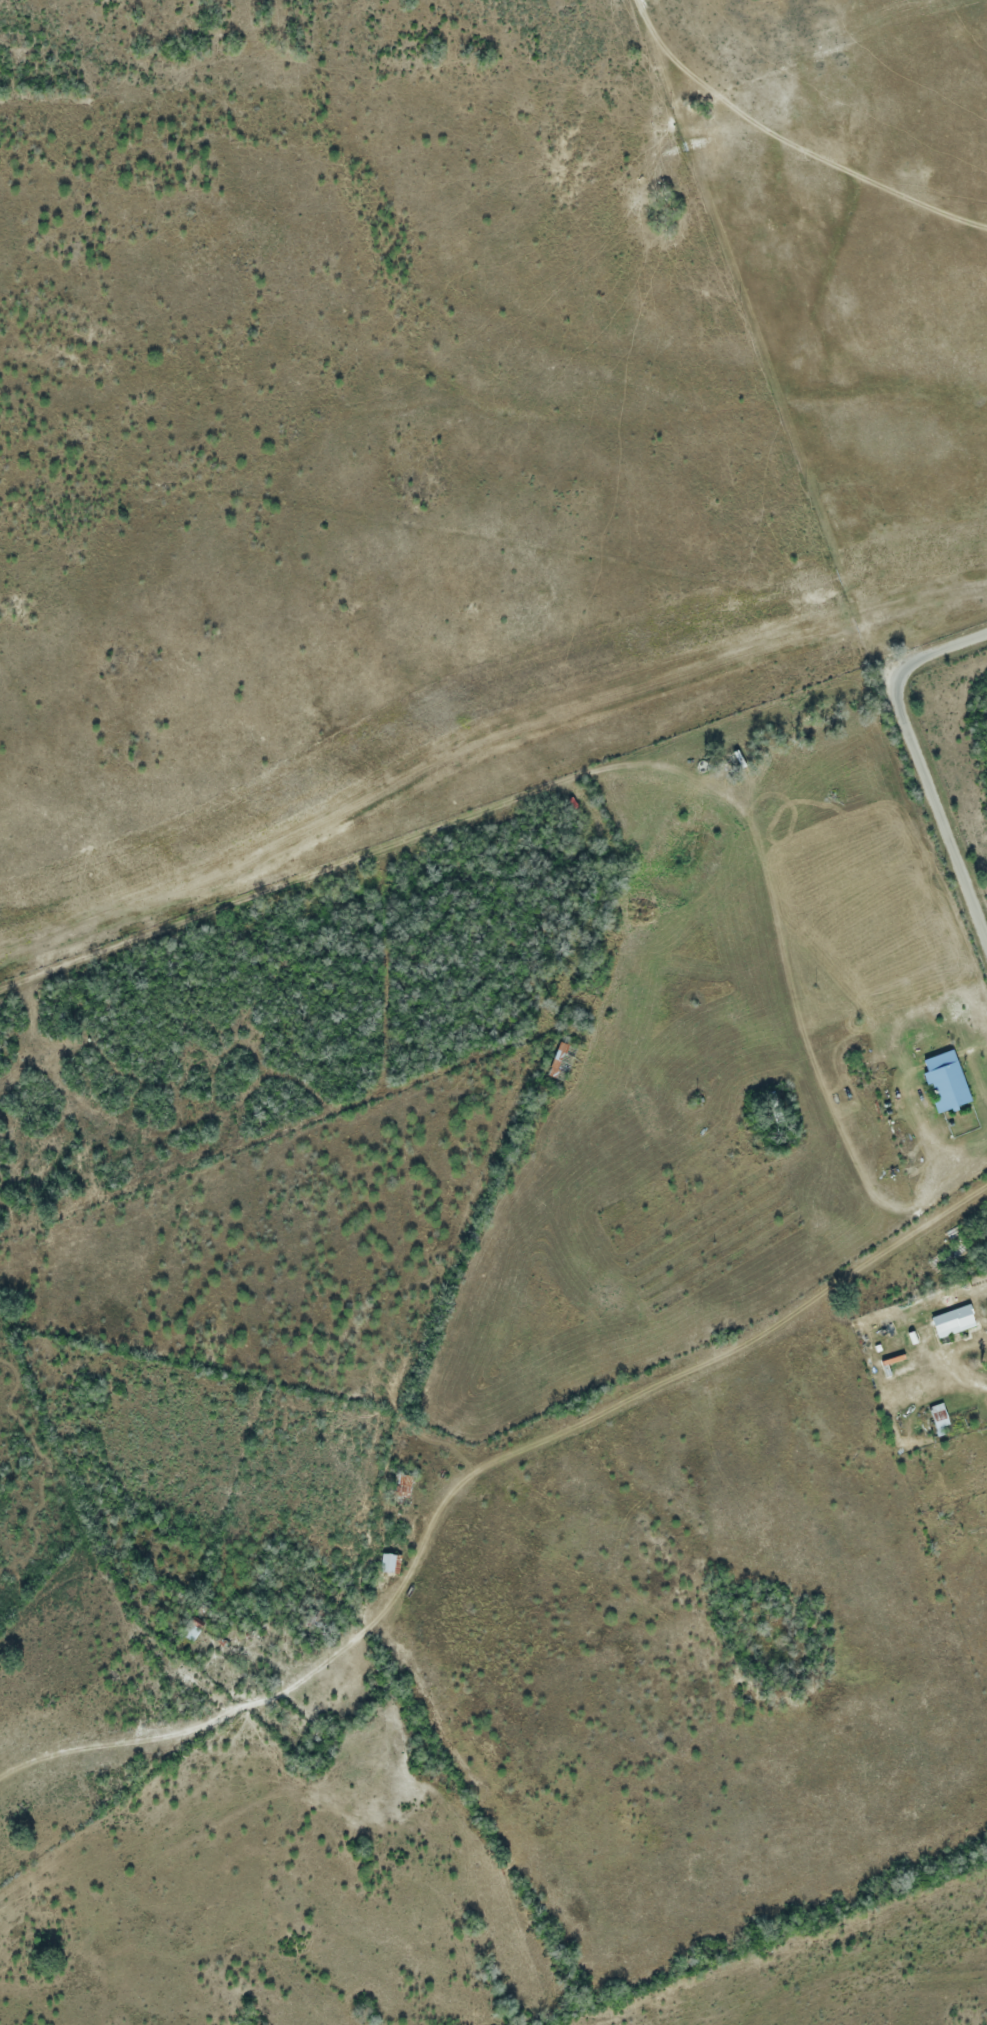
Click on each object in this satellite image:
road: (923, 764)
building: (561, 1060)
building: (945, 1080)
building: (953, 1320)
road: (963, 1367)
building: (937, 1417)
building: (403, 1483)
building: (389, 1562)
building: (190, 1629)

